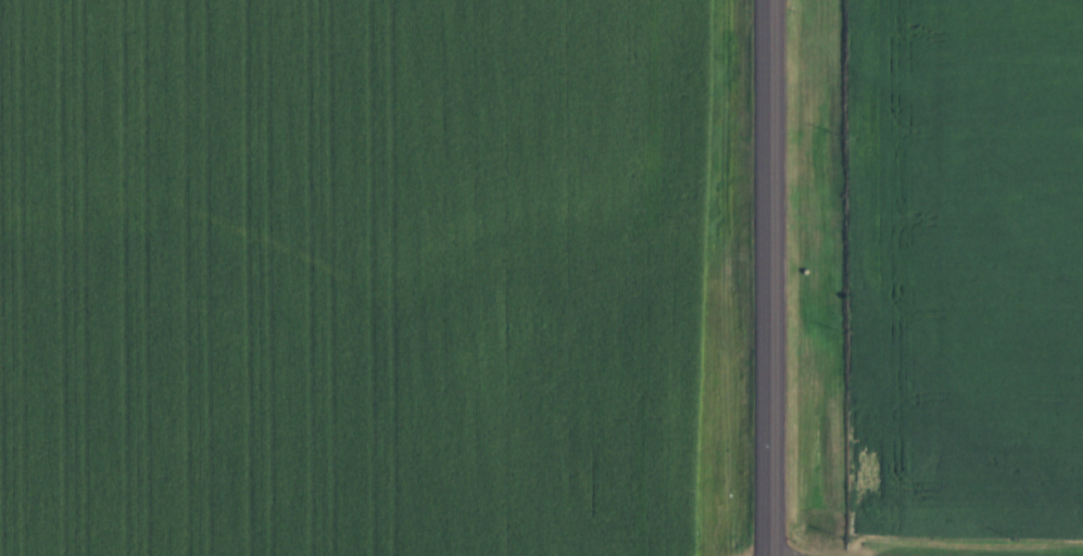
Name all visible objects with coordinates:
road: (766, 278)

